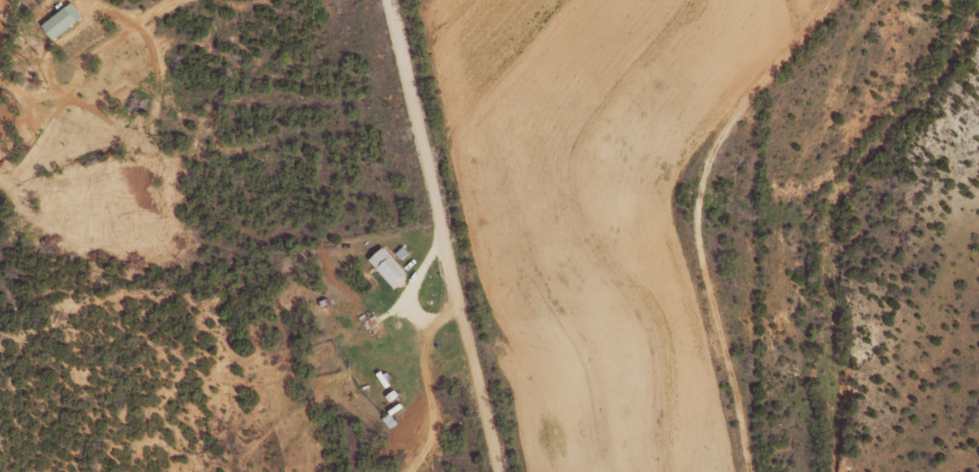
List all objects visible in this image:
road: (161, 9)
building: (62, 20)
road: (47, 81)
road: (440, 235)
building: (388, 266)

